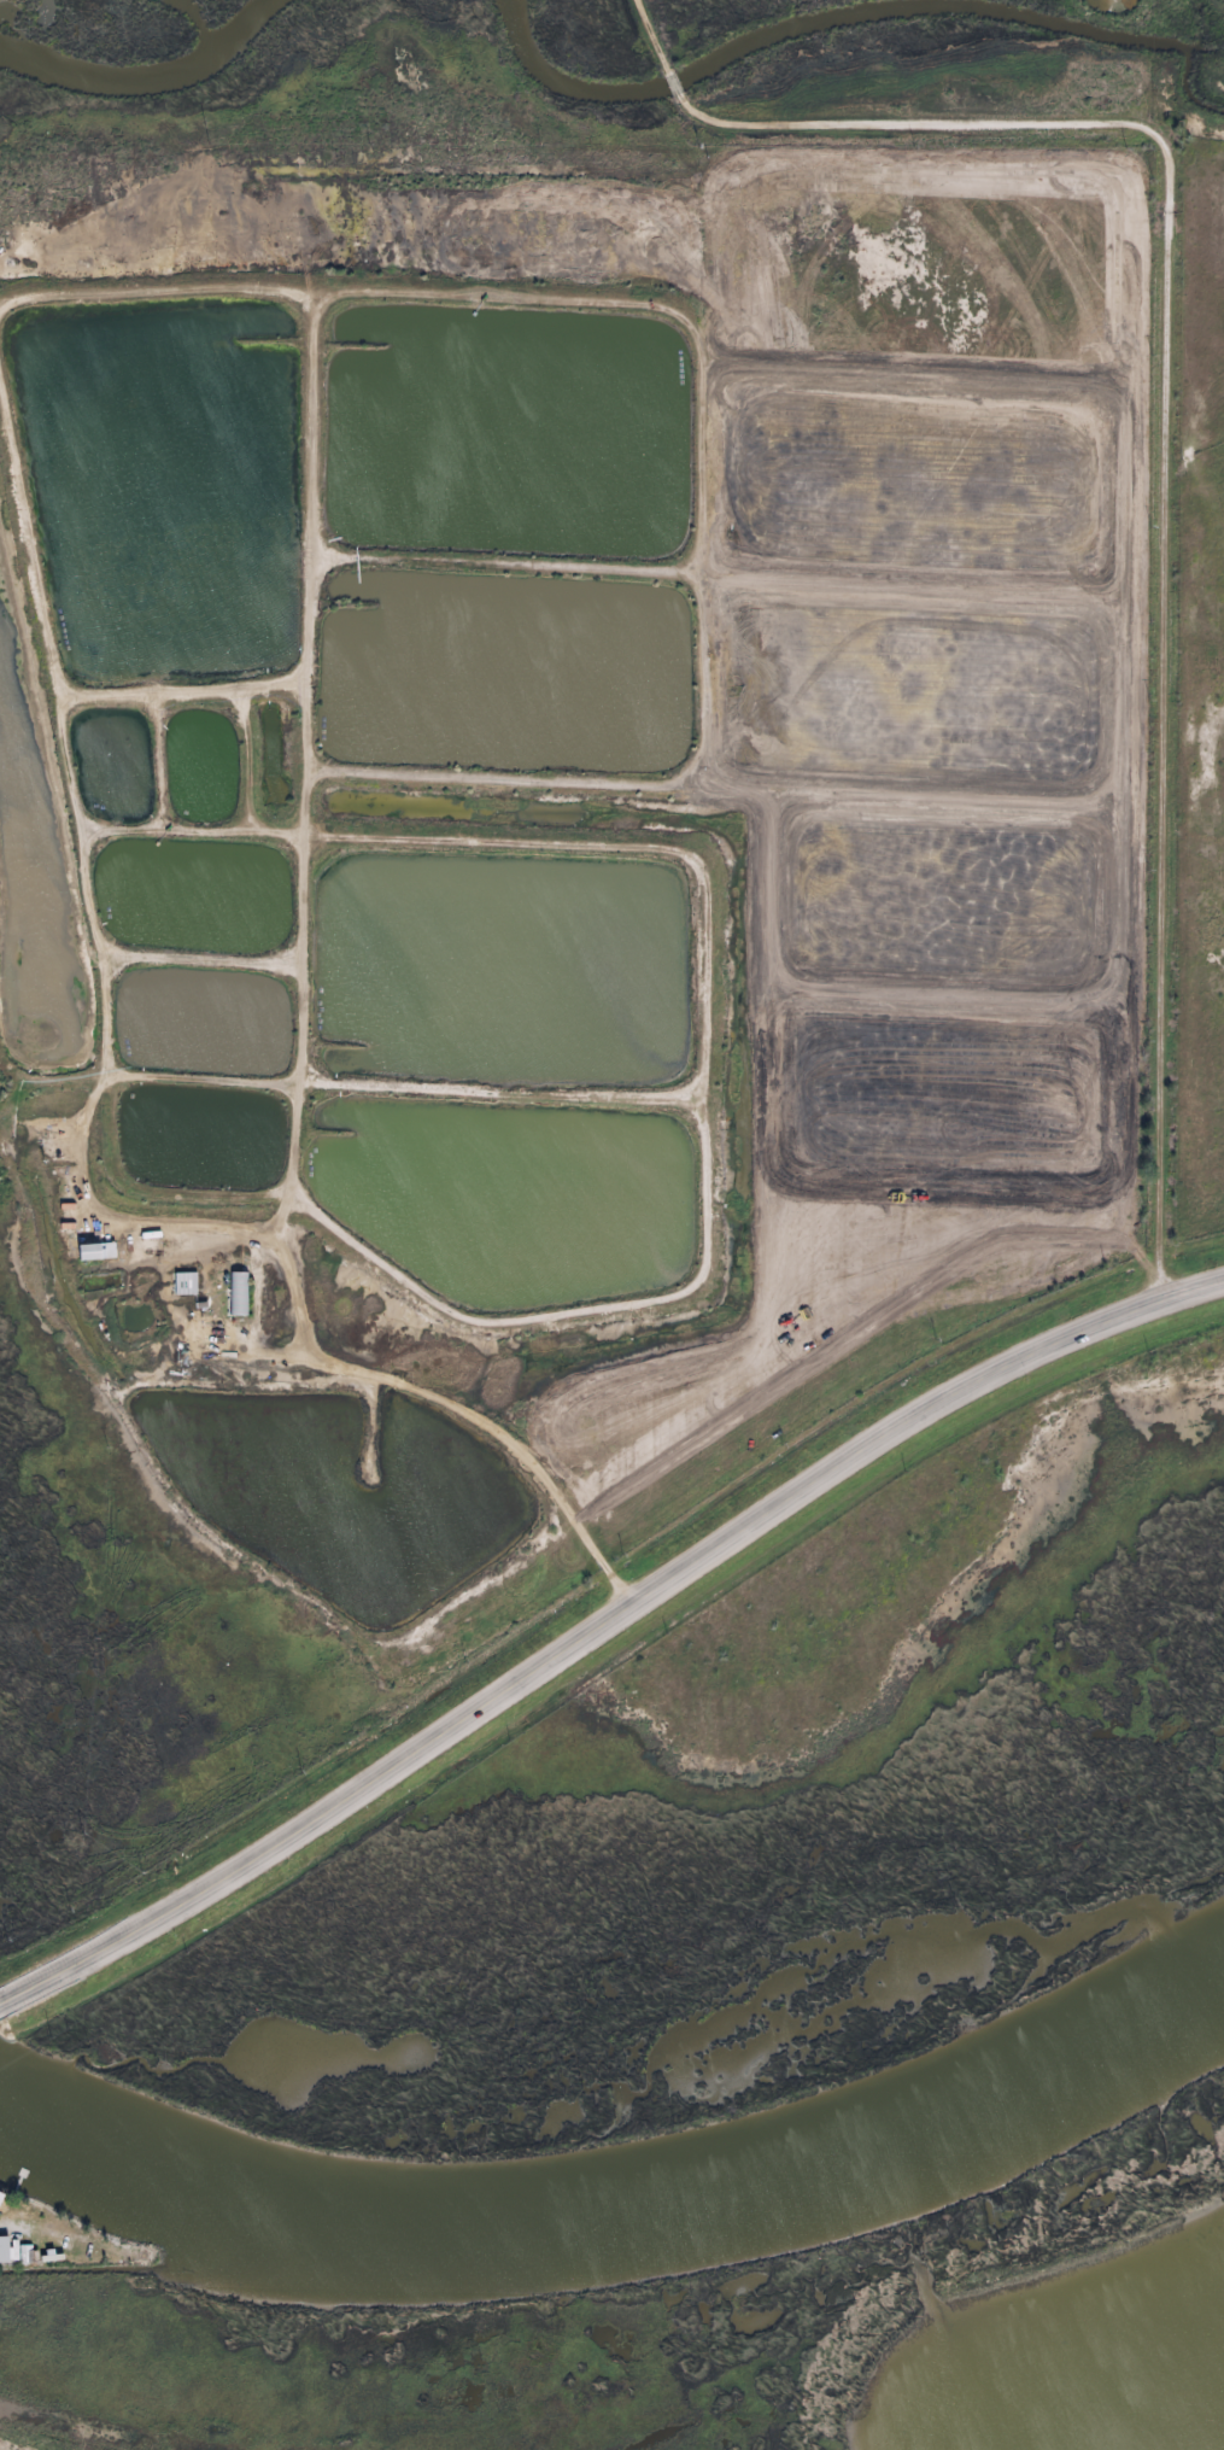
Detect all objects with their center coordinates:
road: (892, 113)
road: (1179, 713)
building: (99, 1252)
building: (186, 1285)
building: (239, 1294)
road: (607, 1631)
building: (2, 2199)
building: (18, 2253)

